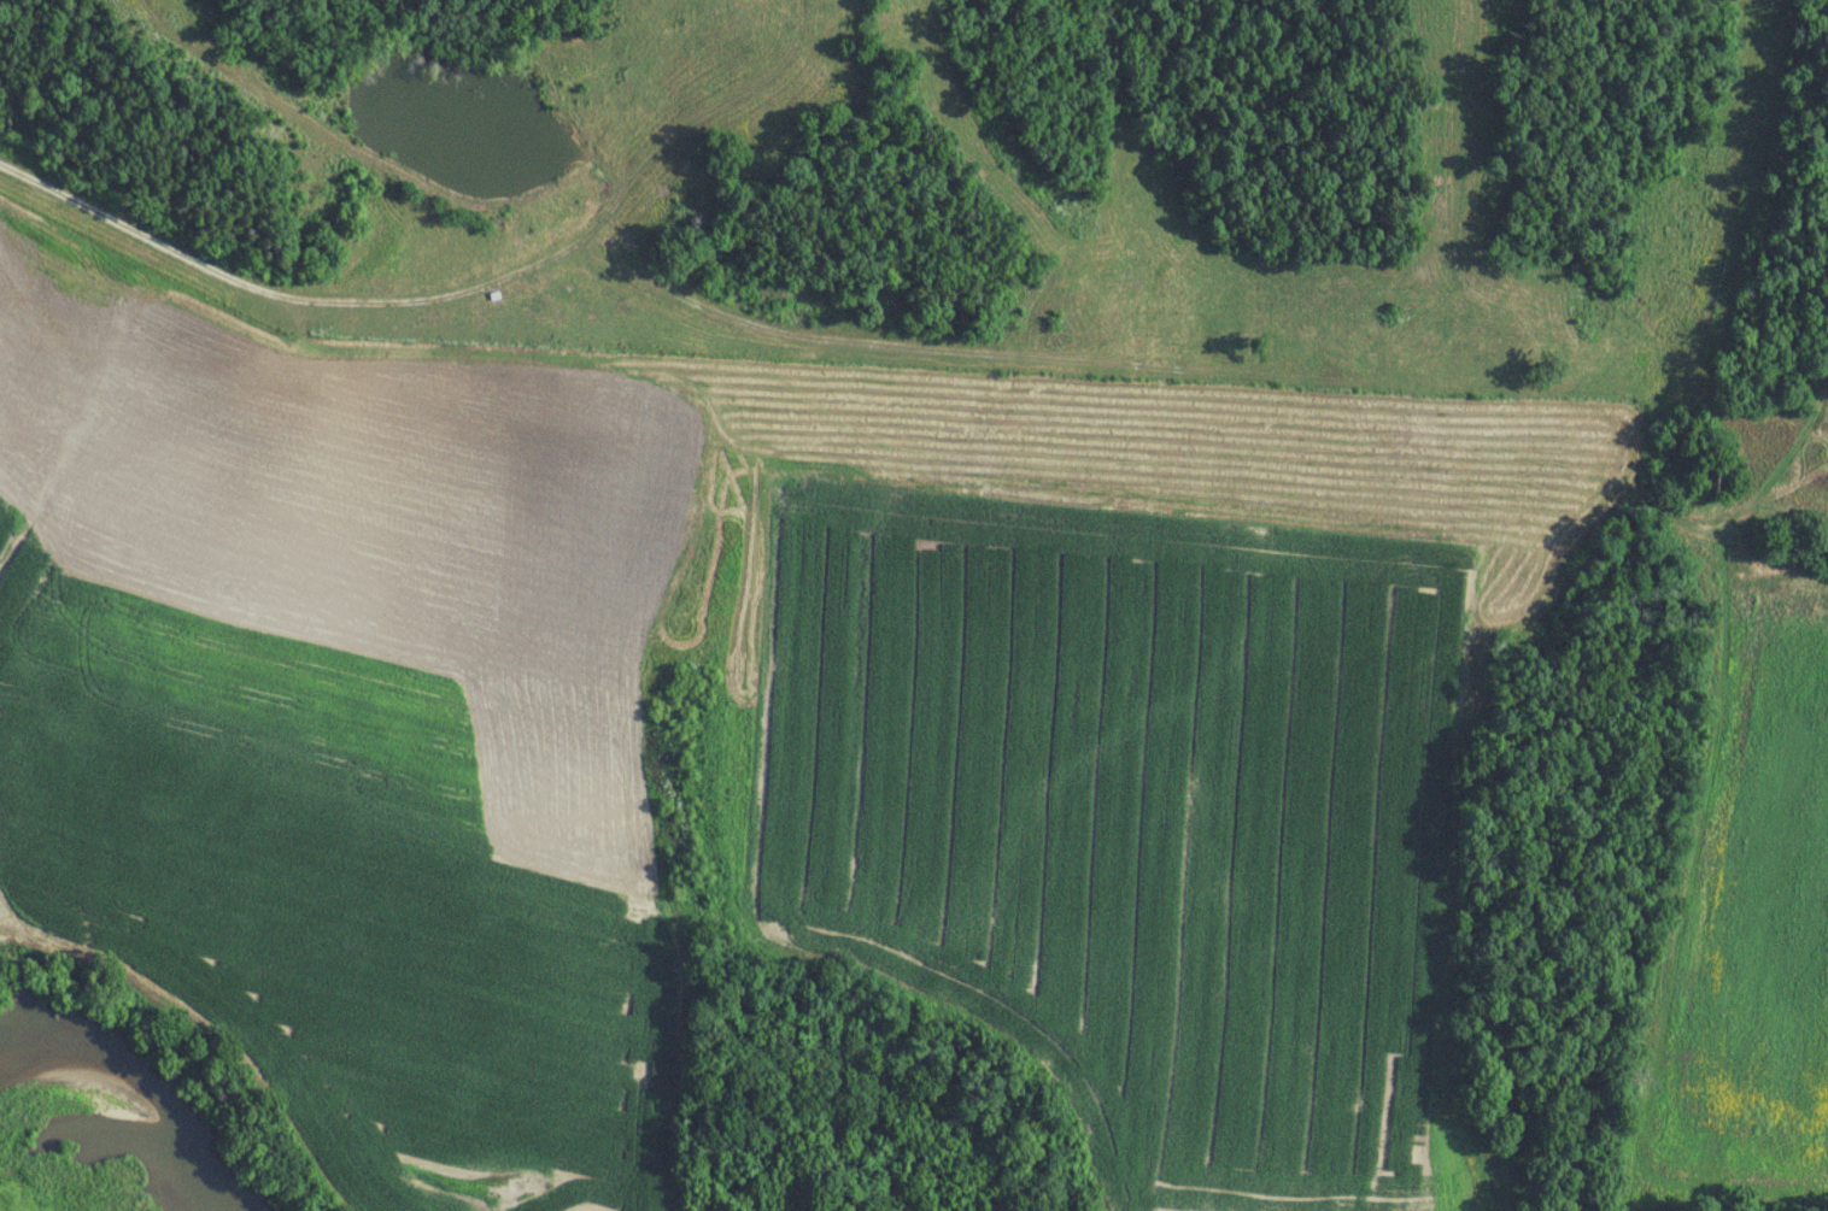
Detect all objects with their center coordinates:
road: (941, 446)
road: (1788, 523)

